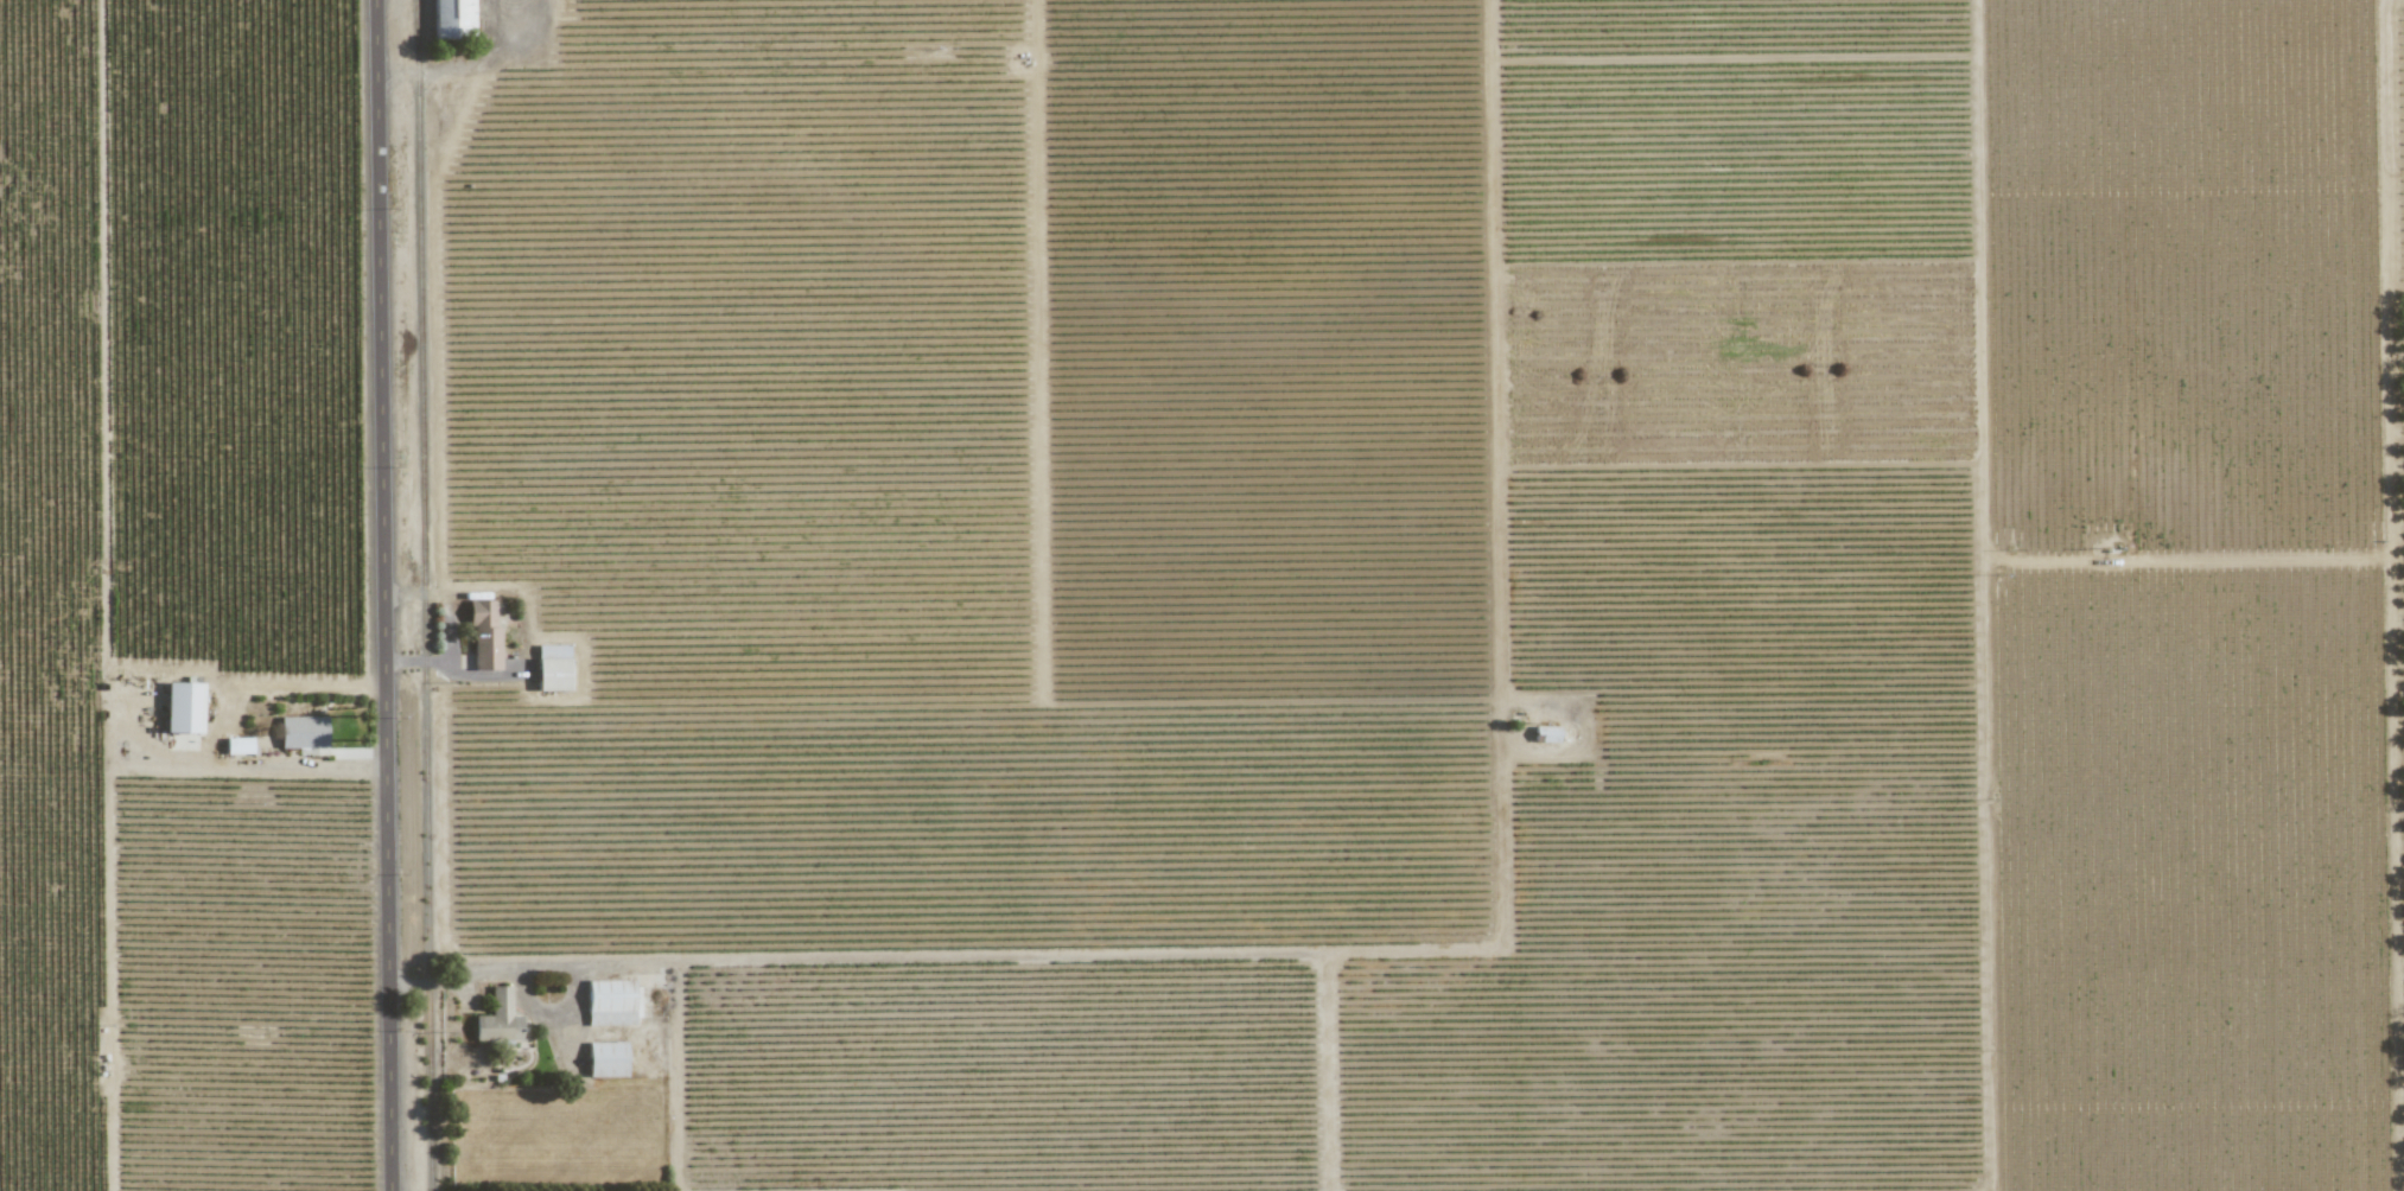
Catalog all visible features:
building: (451, 18)
road: (386, 595)
building: (483, 635)
building: (551, 667)
building: (182, 707)
building: (301, 731)
building: (1546, 733)
building: (236, 745)
road: (541, 967)
building: (610, 1001)
building: (497, 1018)
building: (605, 1058)

